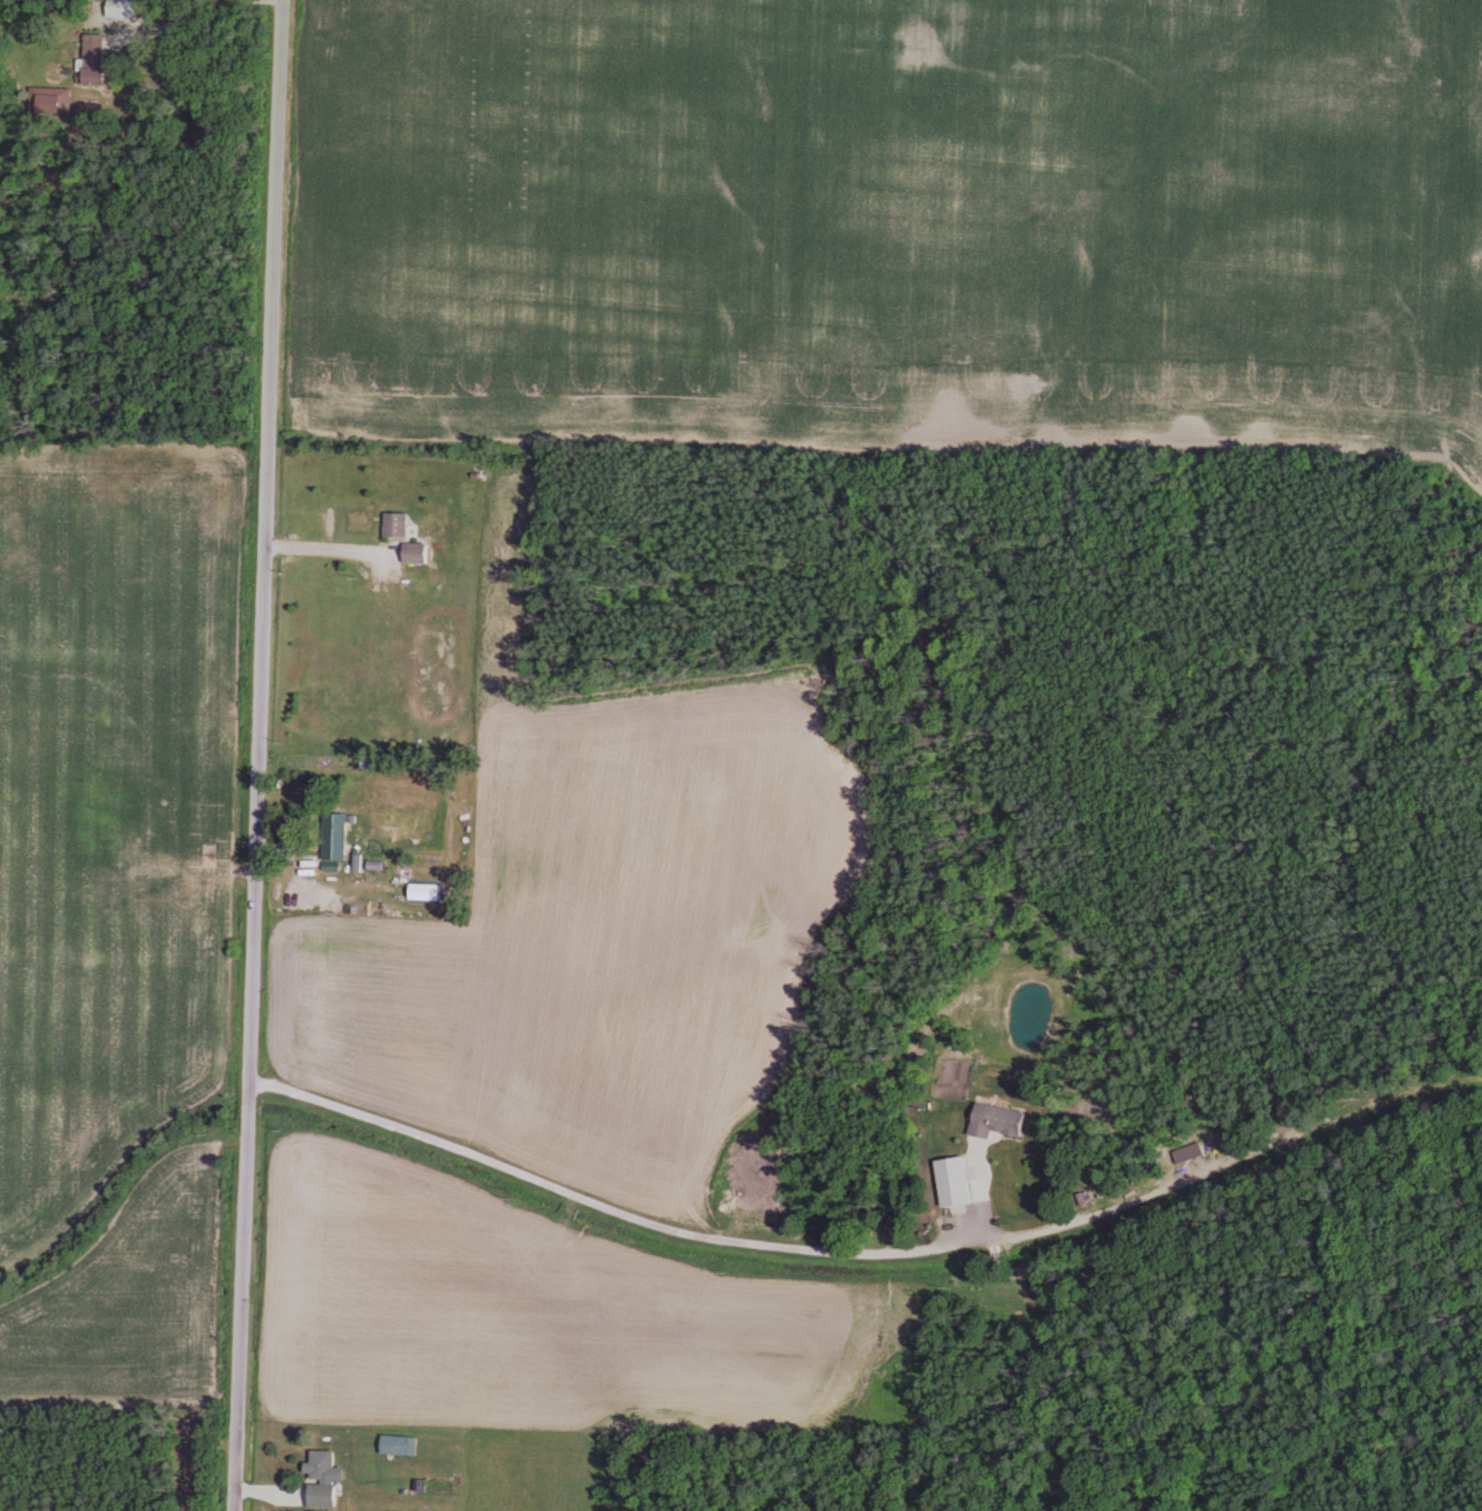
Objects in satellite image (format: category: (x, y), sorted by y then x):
building: (128, 9)
road: (176, 18)
building: (101, 60)
building: (400, 525)
building: (421, 553)
road: (261, 755)
building: (158, 835)
building: (337, 837)
building: (428, 892)
building: (991, 1120)
building: (948, 1180)
building: (322, 1484)

